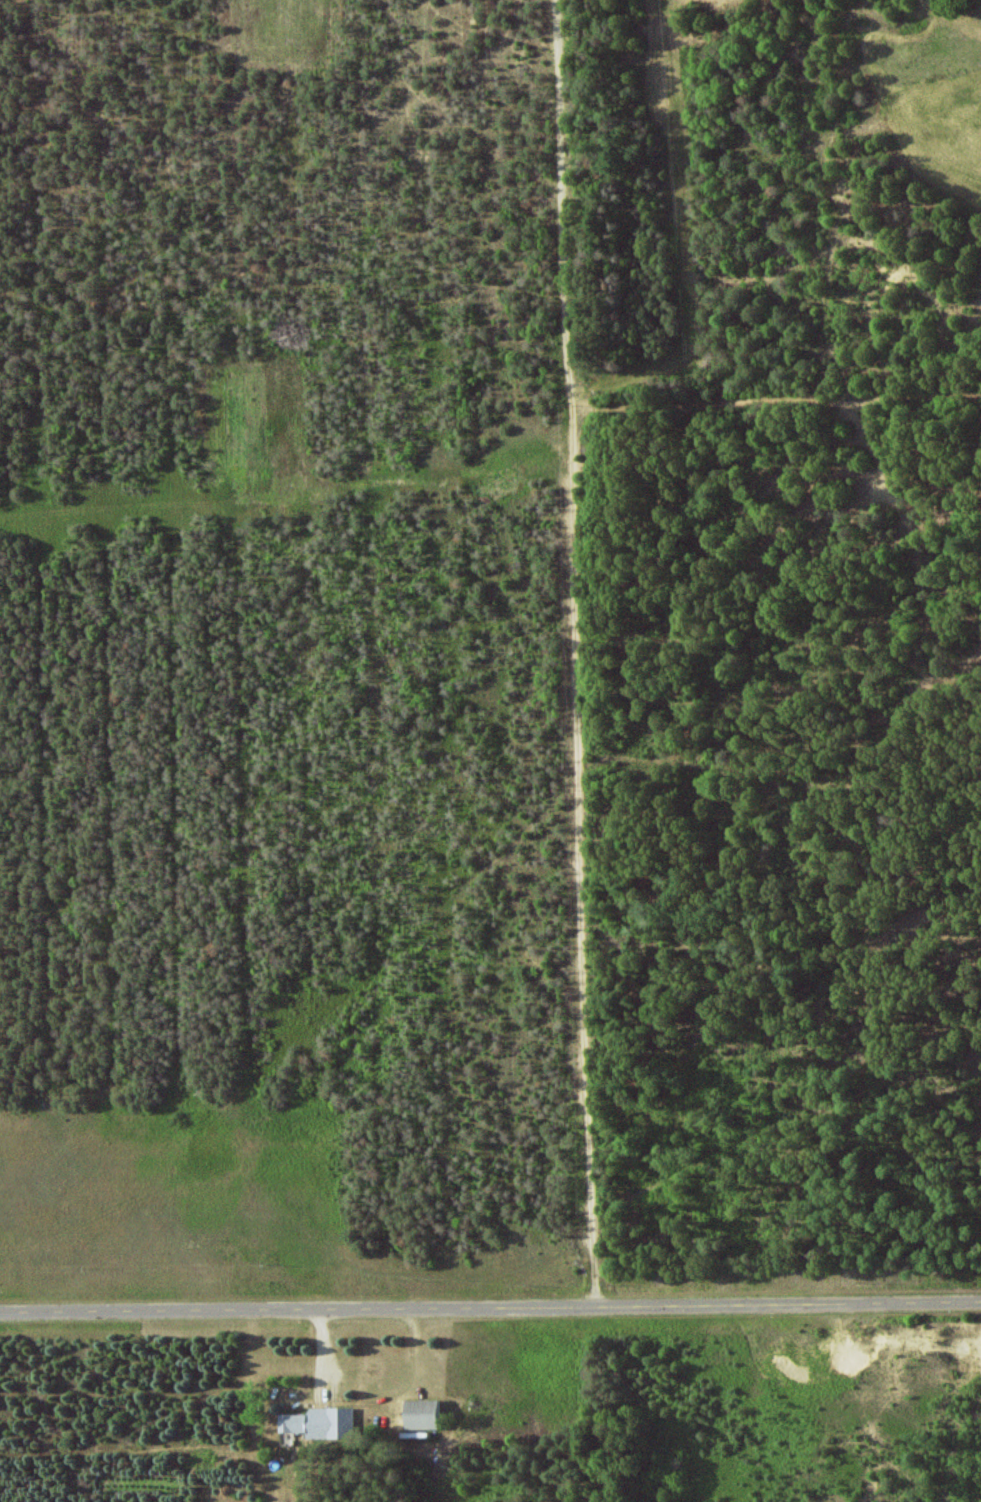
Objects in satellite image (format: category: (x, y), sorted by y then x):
road: (490, 1308)
building: (420, 1414)
building: (318, 1423)

